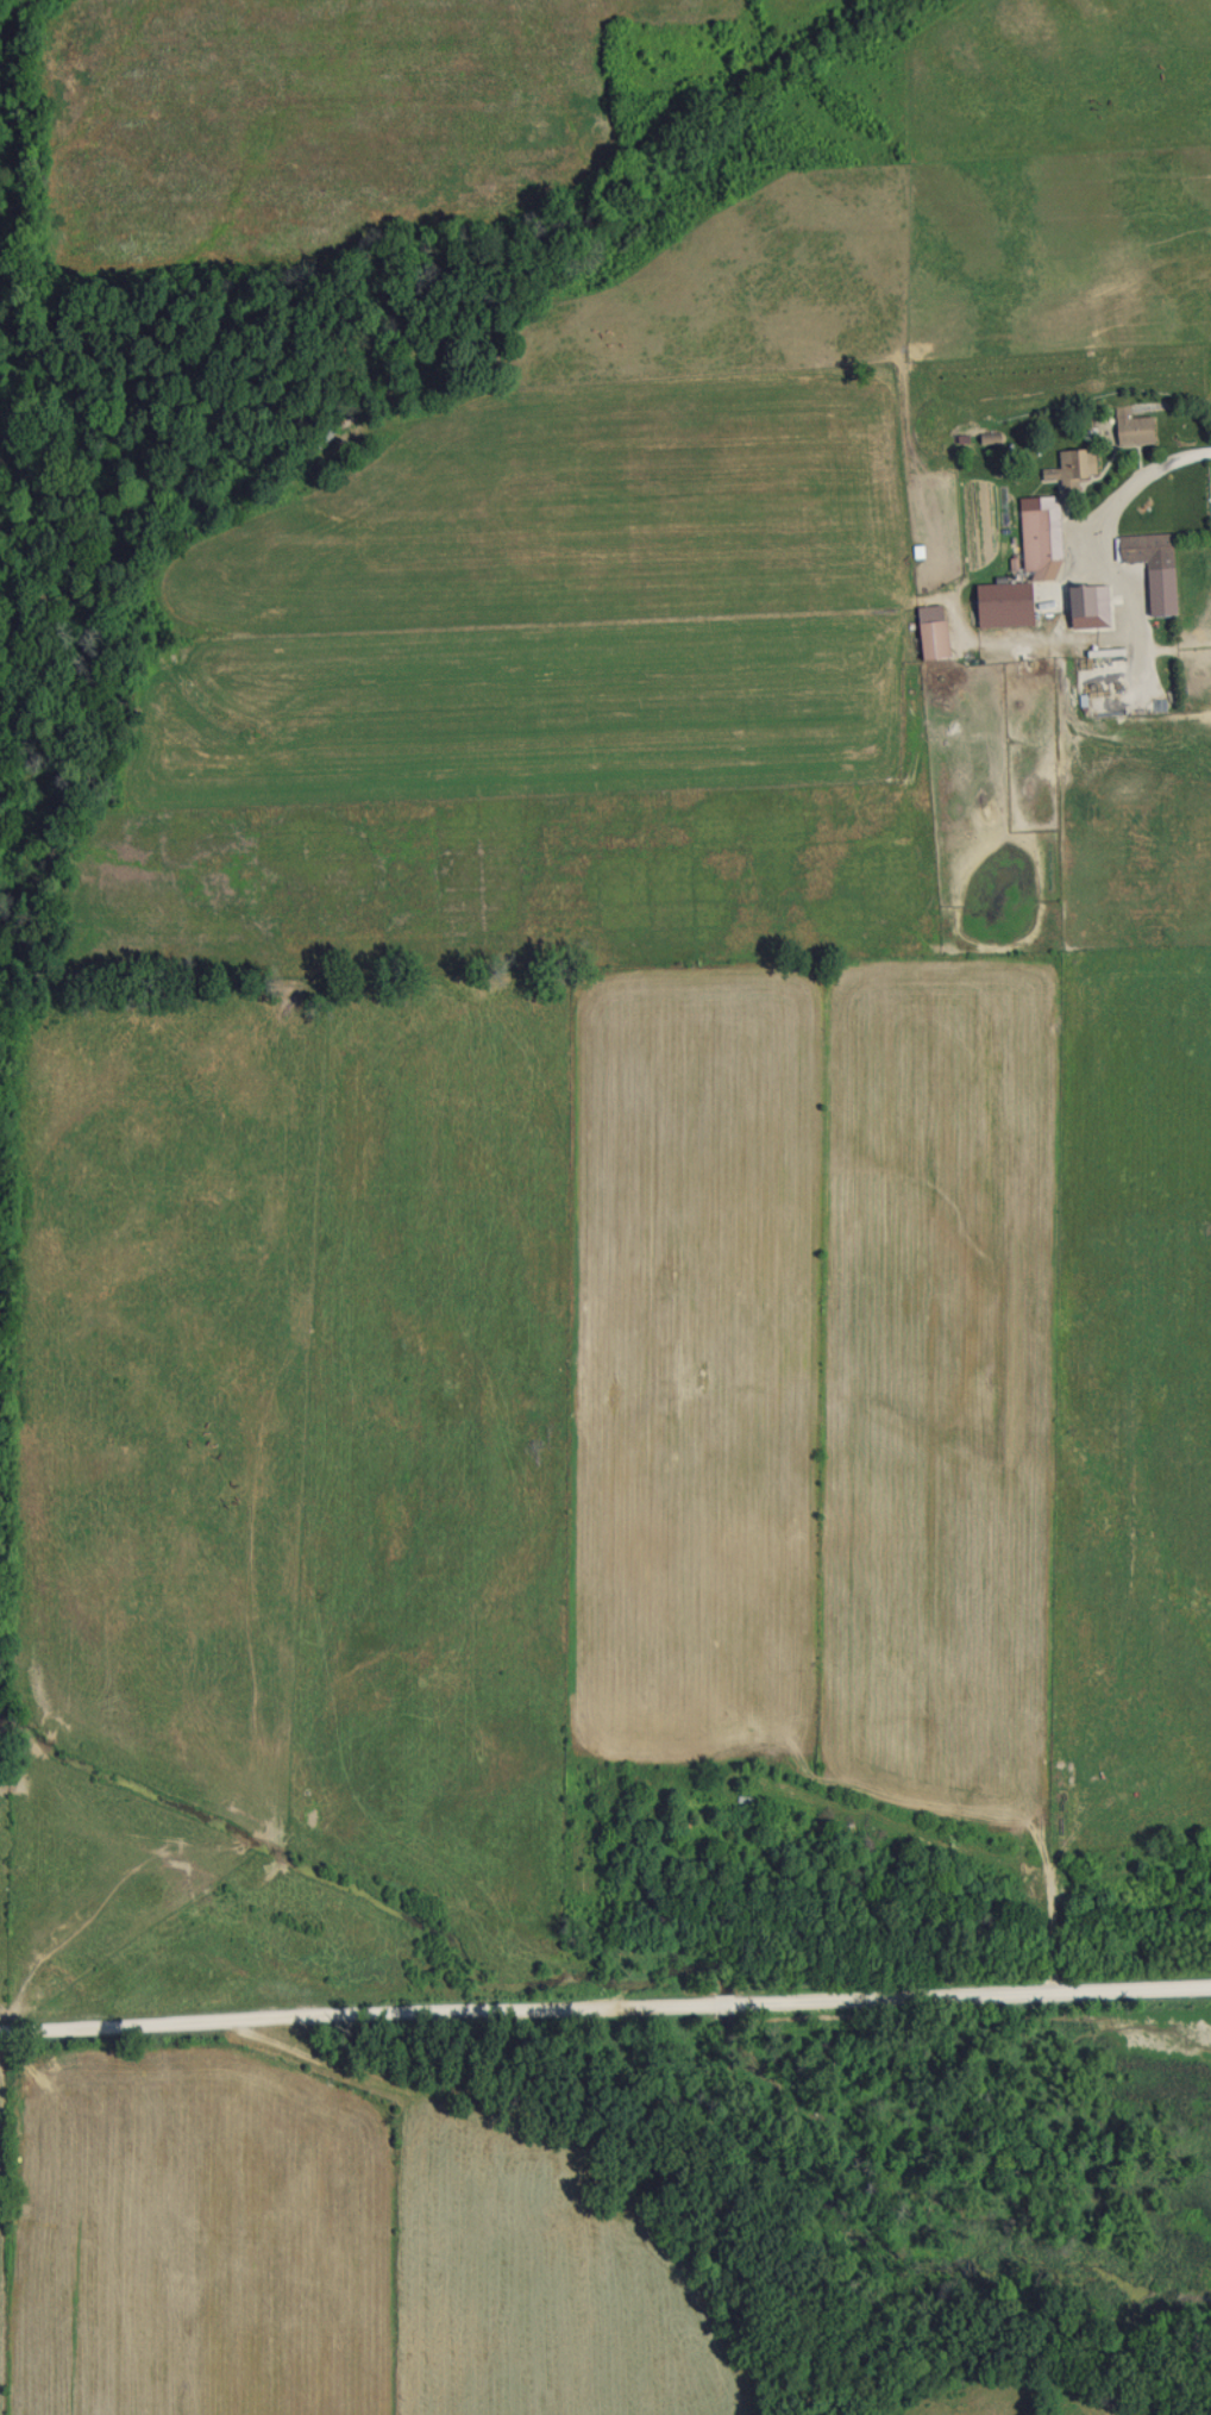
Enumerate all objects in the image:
building: (1130, 427)
building: (1069, 468)
road: (1115, 505)
building: (1039, 543)
building: (1152, 567)
building: (1078, 600)
building: (1000, 605)
building: (929, 632)
road: (605, 2022)

